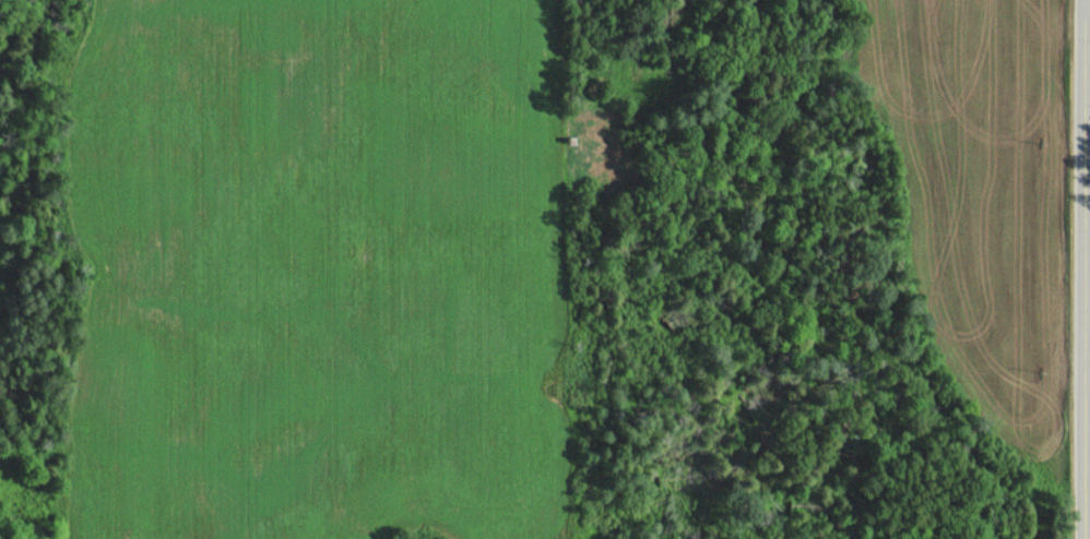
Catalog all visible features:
road: (1086, 269)

